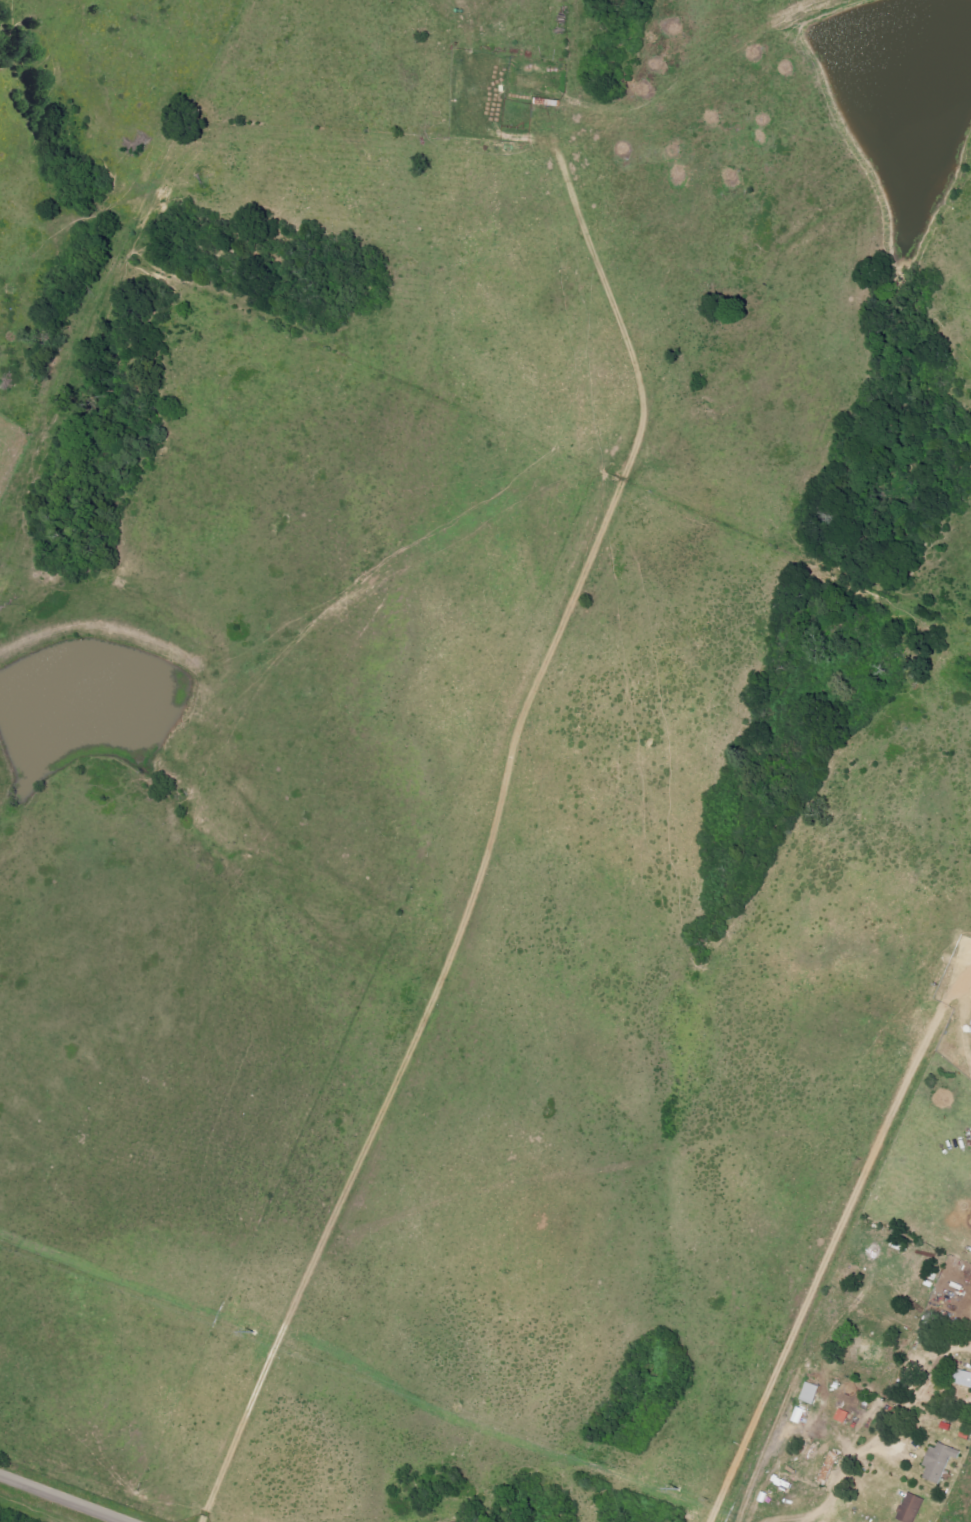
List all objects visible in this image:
road: (495, 815)
building: (961, 1379)
building: (808, 1394)
road: (854, 1457)
building: (938, 1462)
building: (827, 1471)
road: (70, 1496)
building: (910, 1509)
road: (789, 1519)

